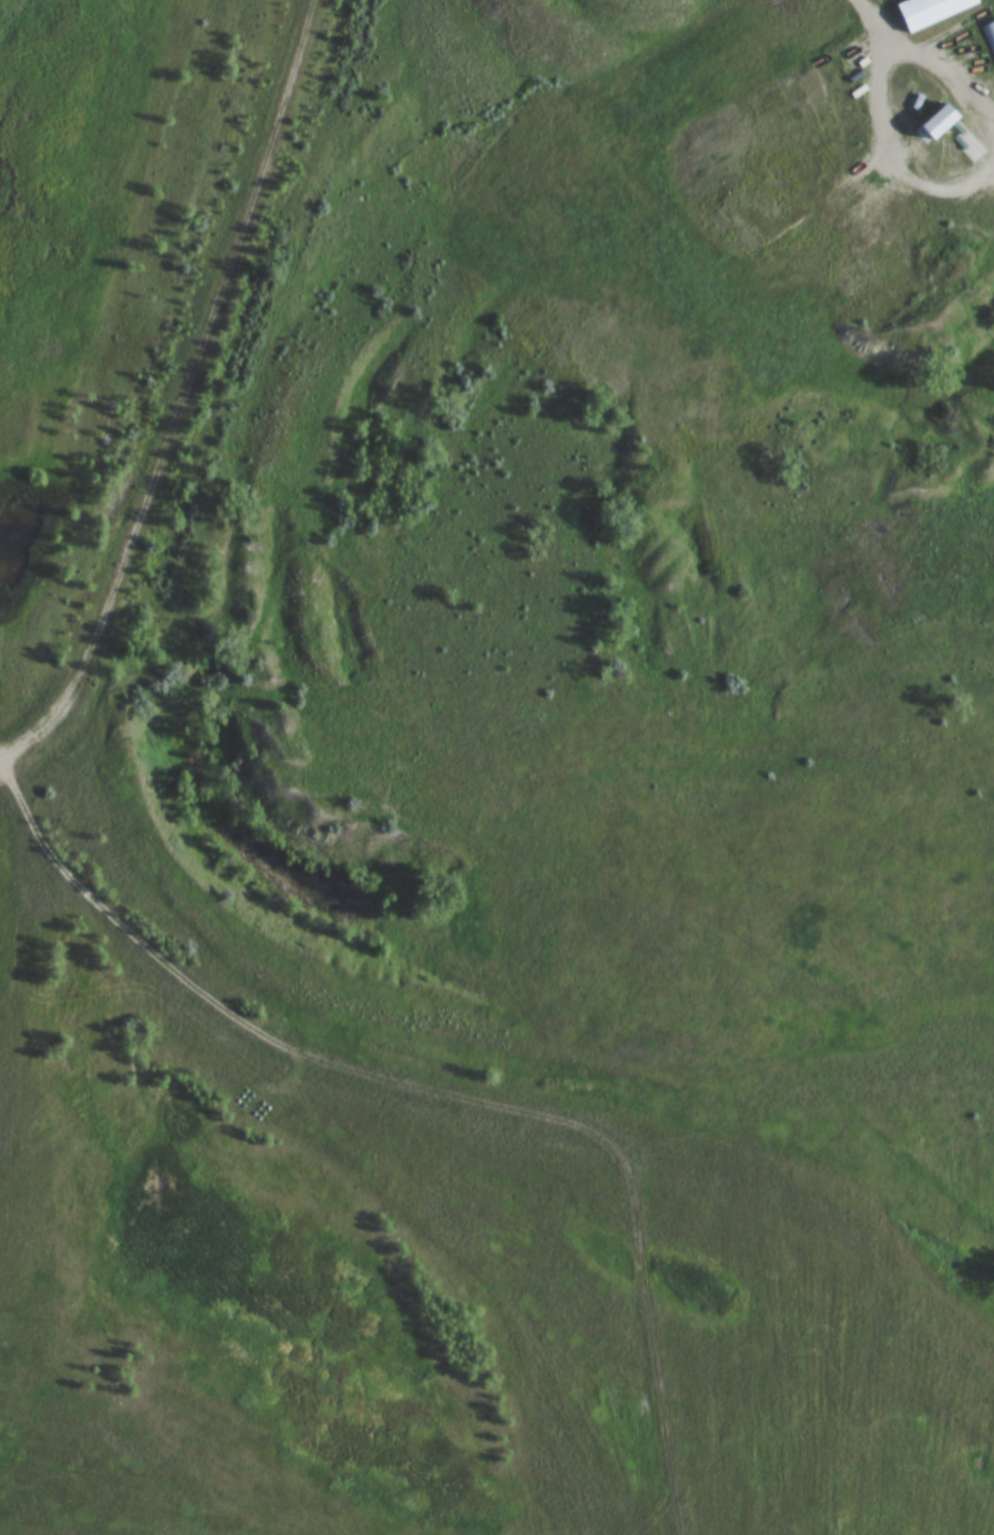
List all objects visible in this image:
building: (932, 11)
road: (857, 19)
building: (989, 35)
building: (943, 122)
road: (993, 126)
road: (971, 182)
road: (182, 390)
road: (440, 1090)

